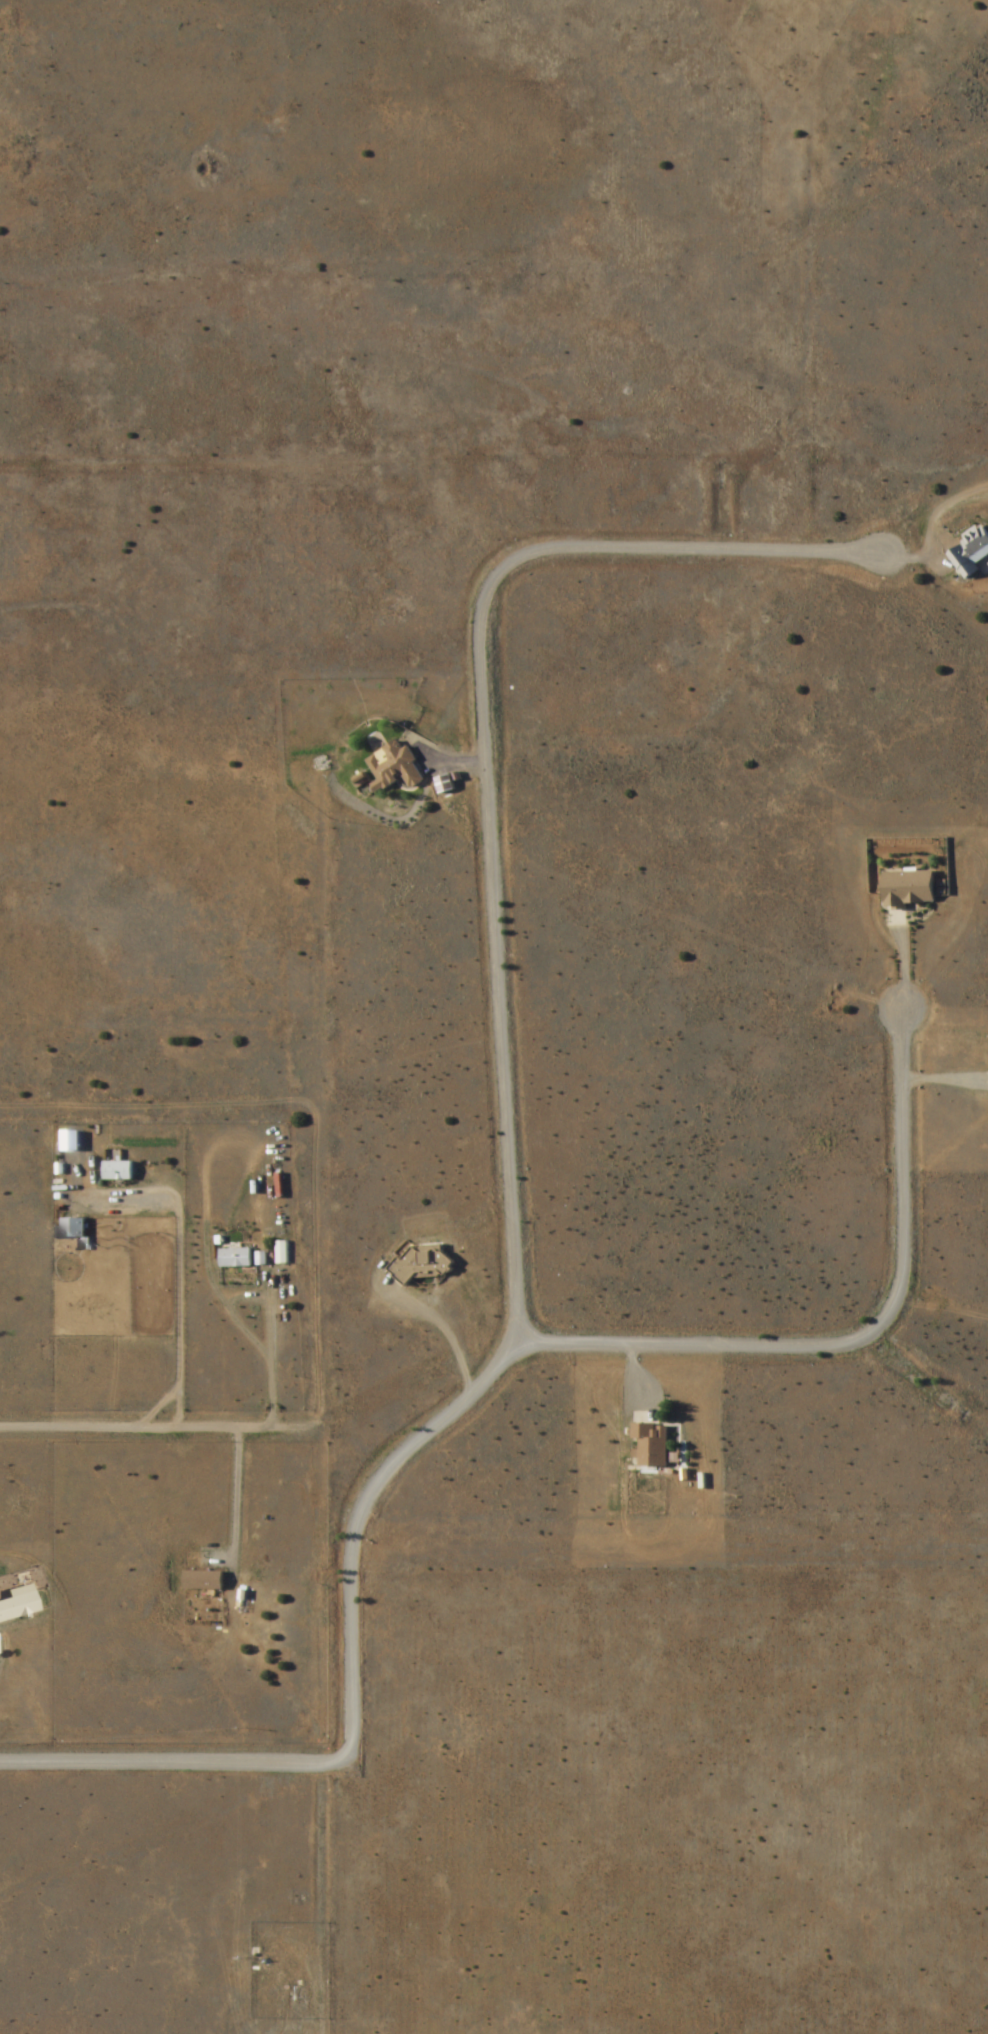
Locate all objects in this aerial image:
building: (970, 552)
building: (394, 770)
building: (906, 890)
road: (910, 966)
road: (510, 1171)
building: (116, 1172)
building: (72, 1230)
building: (235, 1258)
building: (422, 1264)
road: (853, 1342)
road: (156, 1430)
building: (651, 1444)
building: (17, 1608)

